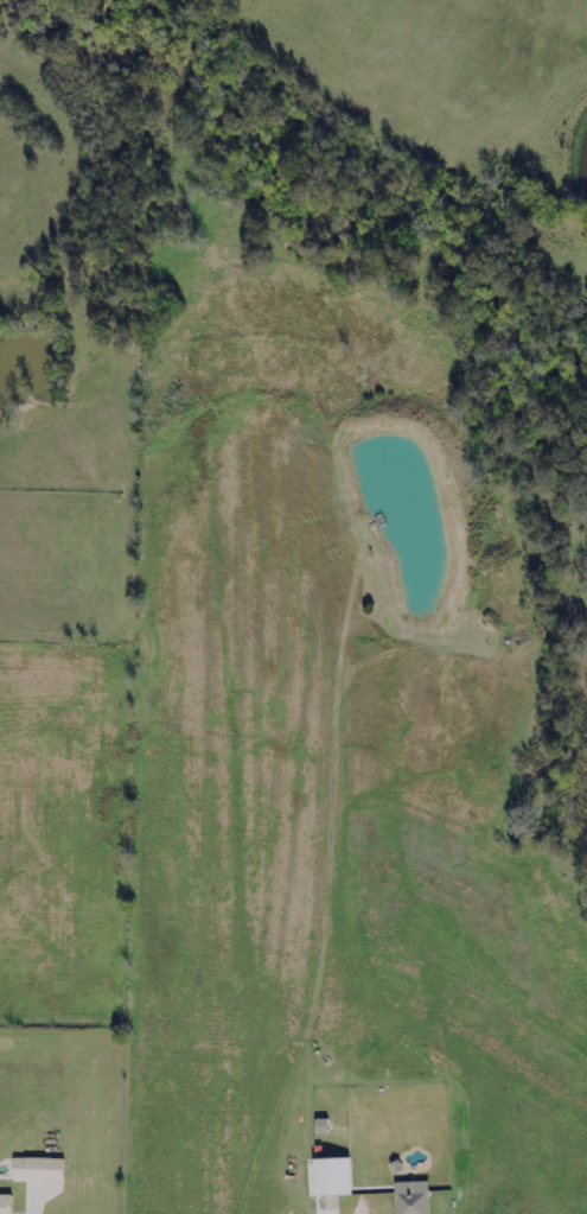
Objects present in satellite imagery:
building: (43, 1169)
building: (337, 1176)
building: (409, 1202)
building: (7, 1203)

